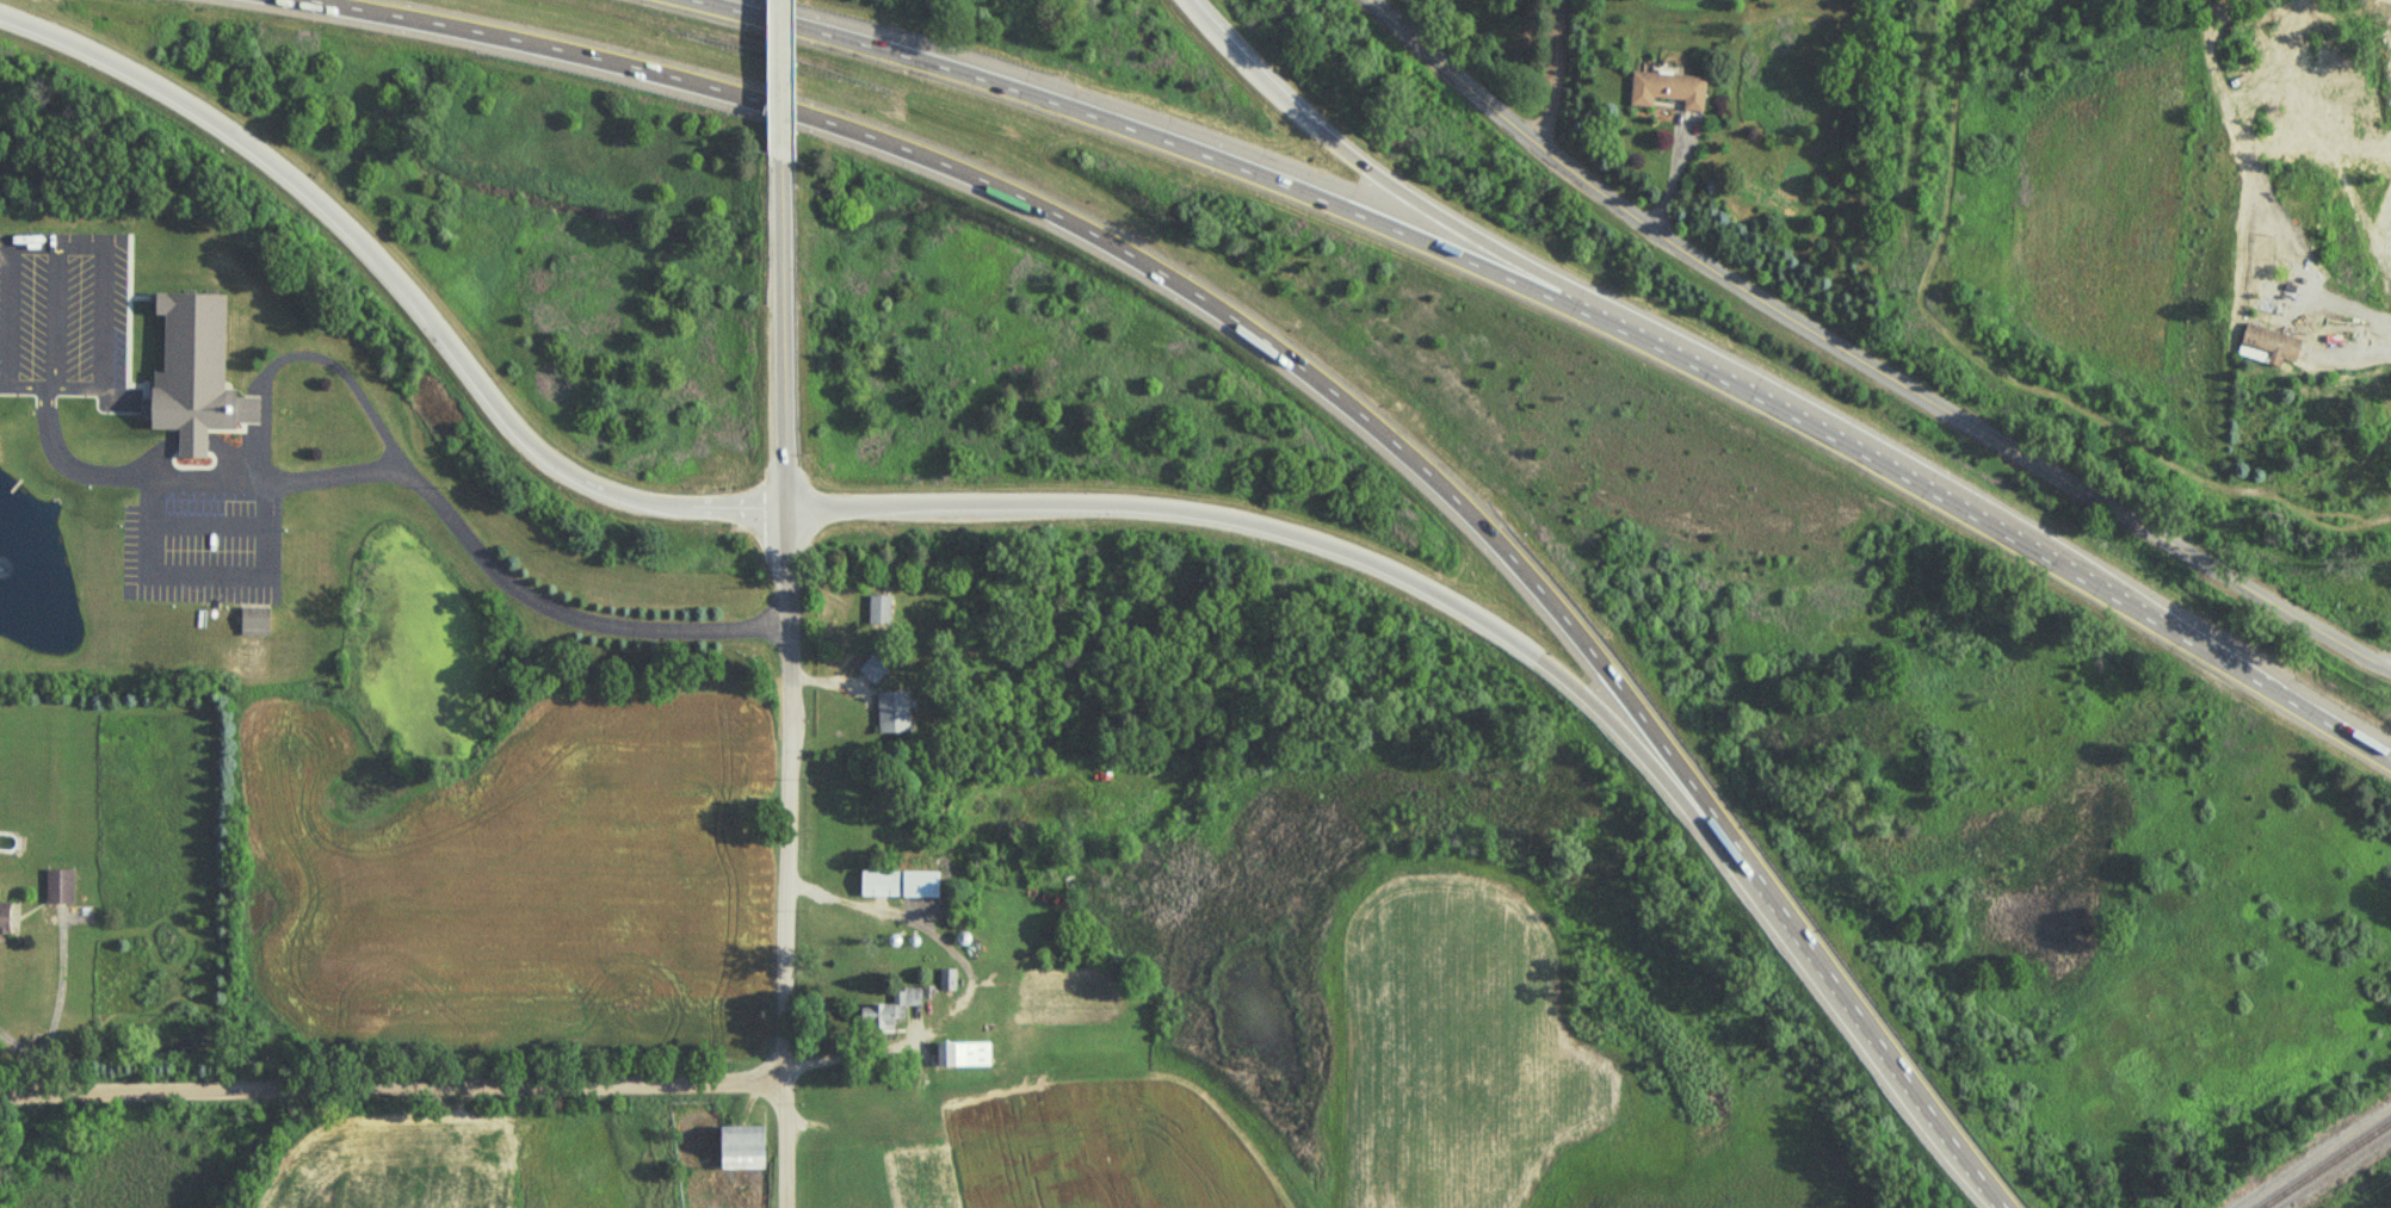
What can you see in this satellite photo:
road: (1550, 76)
road: (777, 79)
building: (1667, 89)
road: (1409, 198)
crop: (2100, 203)
road: (353, 230)
building: (2265, 254)
road: (1570, 308)
road: (781, 332)
building: (2268, 346)
road: (2362, 347)
road: (1864, 358)
road: (1310, 372)
building: (193, 373)
road: (401, 467)
road: (721, 506)
road: (146, 545)
road: (1342, 550)
road: (786, 562)
building: (877, 606)
building: (253, 620)
building: (871, 667)
building: (890, 708)
building: (57, 885)
building: (877, 885)
road: (785, 912)
building: (2, 913)
building: (910, 935)
building: (960, 935)
building: (890, 937)
road: (970, 977)
building: (946, 980)
building: (886, 1011)
building: (941, 1049)
road: (32, 1055)
road: (391, 1089)
building: (739, 1145)
railway: (2328, 1165)
crop: (418, 1171)

